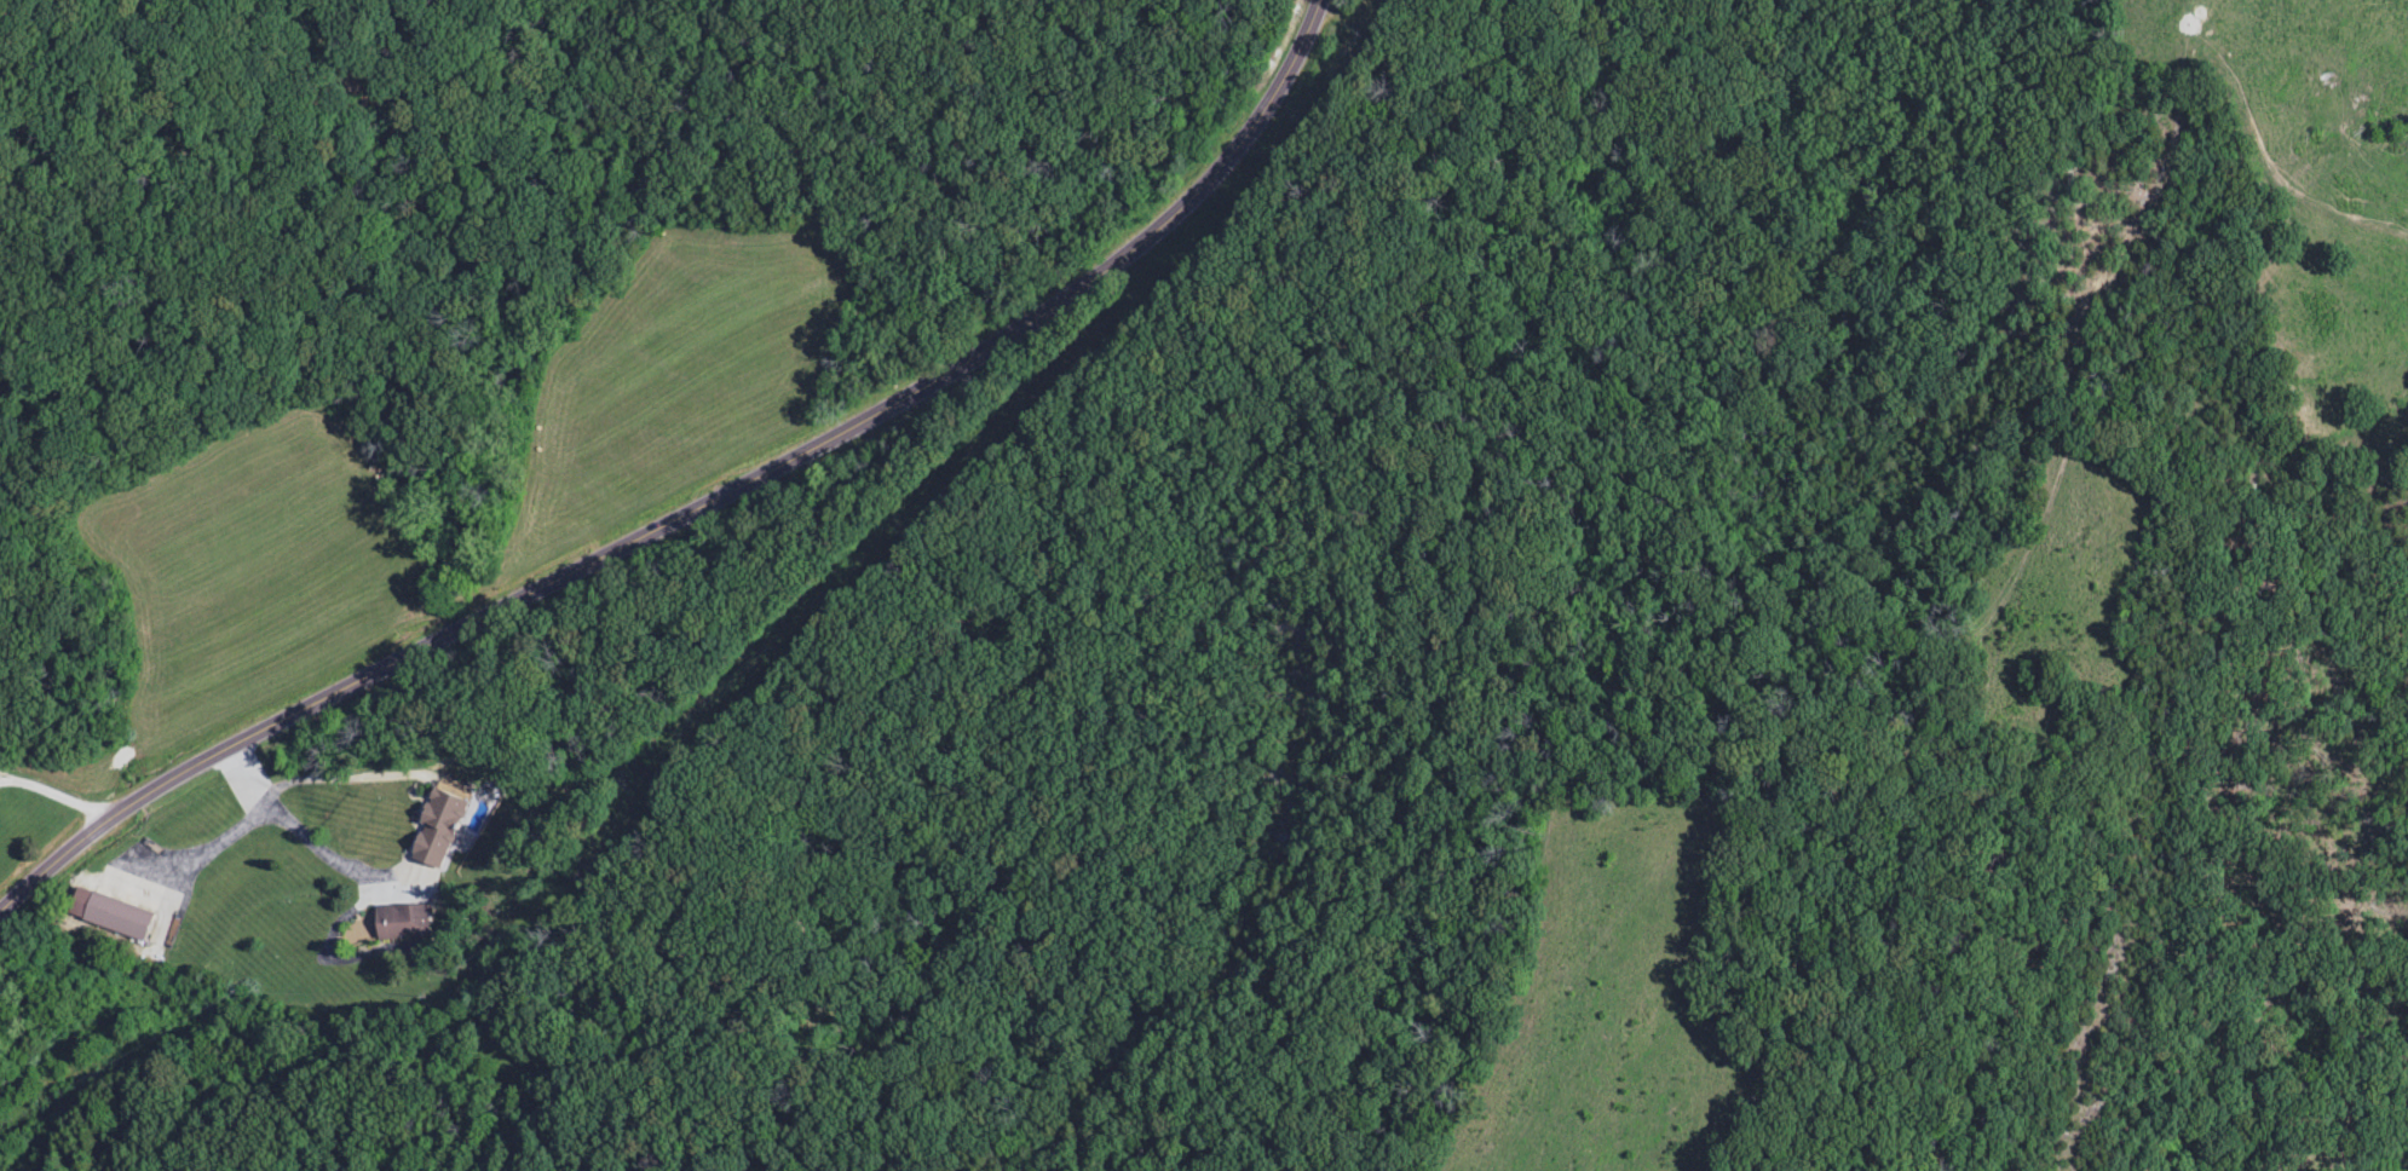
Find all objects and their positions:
road: (708, 509)
road: (338, 779)
road: (56, 795)
building: (442, 823)
road: (293, 827)
road: (211, 846)
building: (105, 915)
building: (404, 924)

